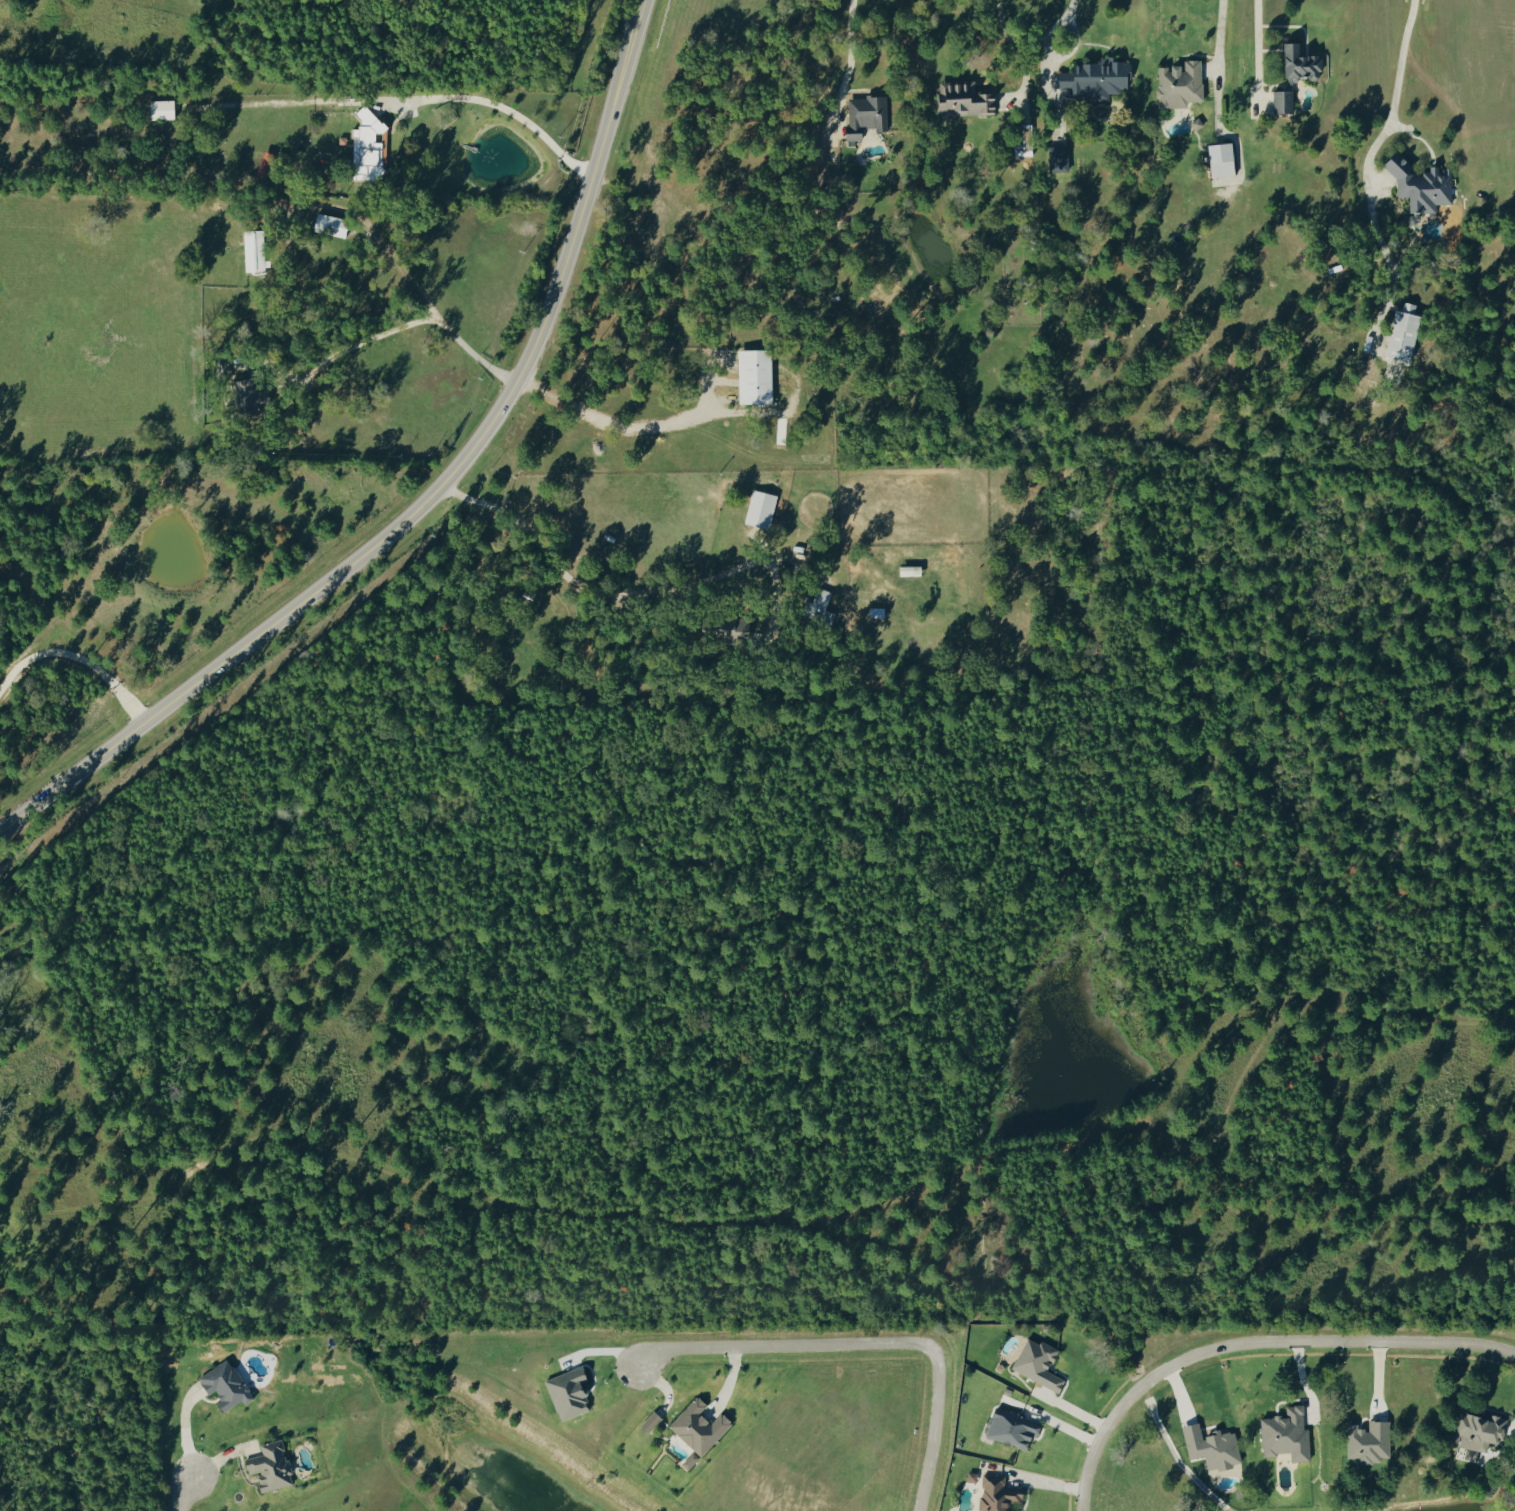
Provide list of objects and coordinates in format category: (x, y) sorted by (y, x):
road: (1056, 35)
road: (1223, 37)
road: (1261, 37)
road: (1015, 51)
road: (847, 62)
building: (1294, 63)
building: (1099, 79)
building: (1175, 83)
building: (967, 99)
building: (1279, 100)
road: (497, 106)
building: (166, 109)
building: (868, 116)
building: (370, 146)
building: (1061, 158)
building: (1216, 158)
road: (1370, 173)
building: (1416, 183)
building: (335, 225)
building: (256, 251)
road: (405, 330)
building: (1398, 332)
building: (758, 375)
building: (256, 390)
road: (603, 422)
road: (419, 488)
building: (763, 508)
building: (914, 570)
road: (578, 587)
road: (77, 656)
road: (1330, 1340)
road: (864, 1344)
building: (1034, 1362)
building: (228, 1384)
building: (572, 1393)
building: (653, 1420)
building: (702, 1427)
building: (1008, 1427)
road: (185, 1428)
building: (1474, 1430)
road: (1099, 1433)
building: (1282, 1433)
building: (1365, 1441)
building: (1208, 1445)
building: (693, 1461)
building: (273, 1466)
road: (183, 1492)
building: (995, 1493)
building: (1513, 1498)

